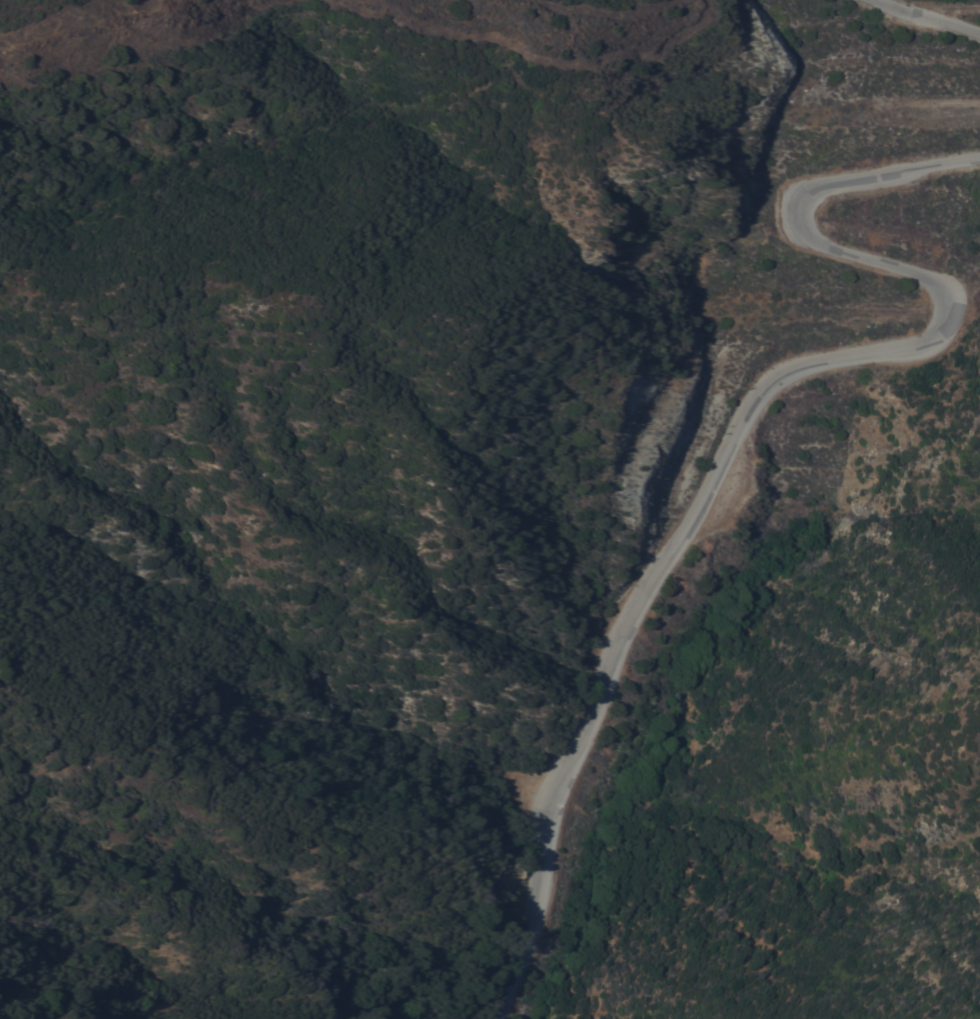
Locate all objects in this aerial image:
road: (922, 19)
road: (743, 419)

